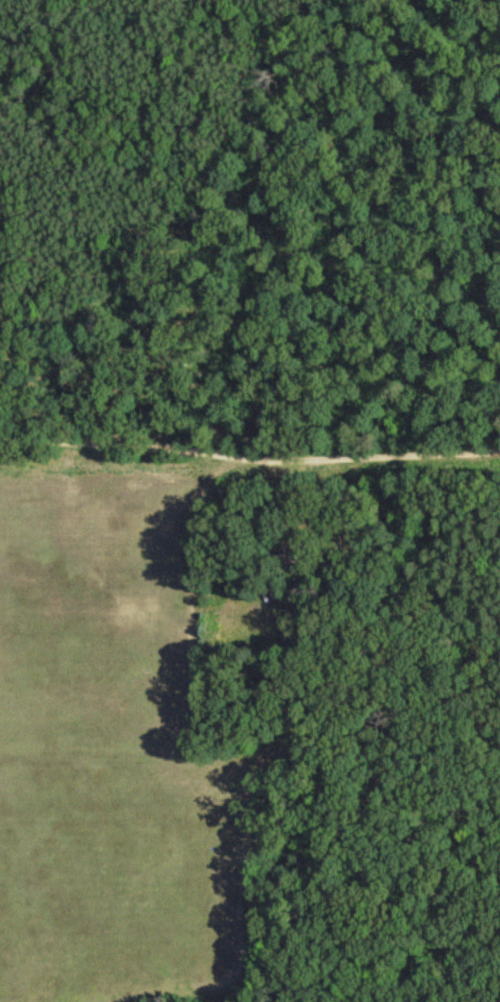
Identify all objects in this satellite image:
road: (250, 454)

